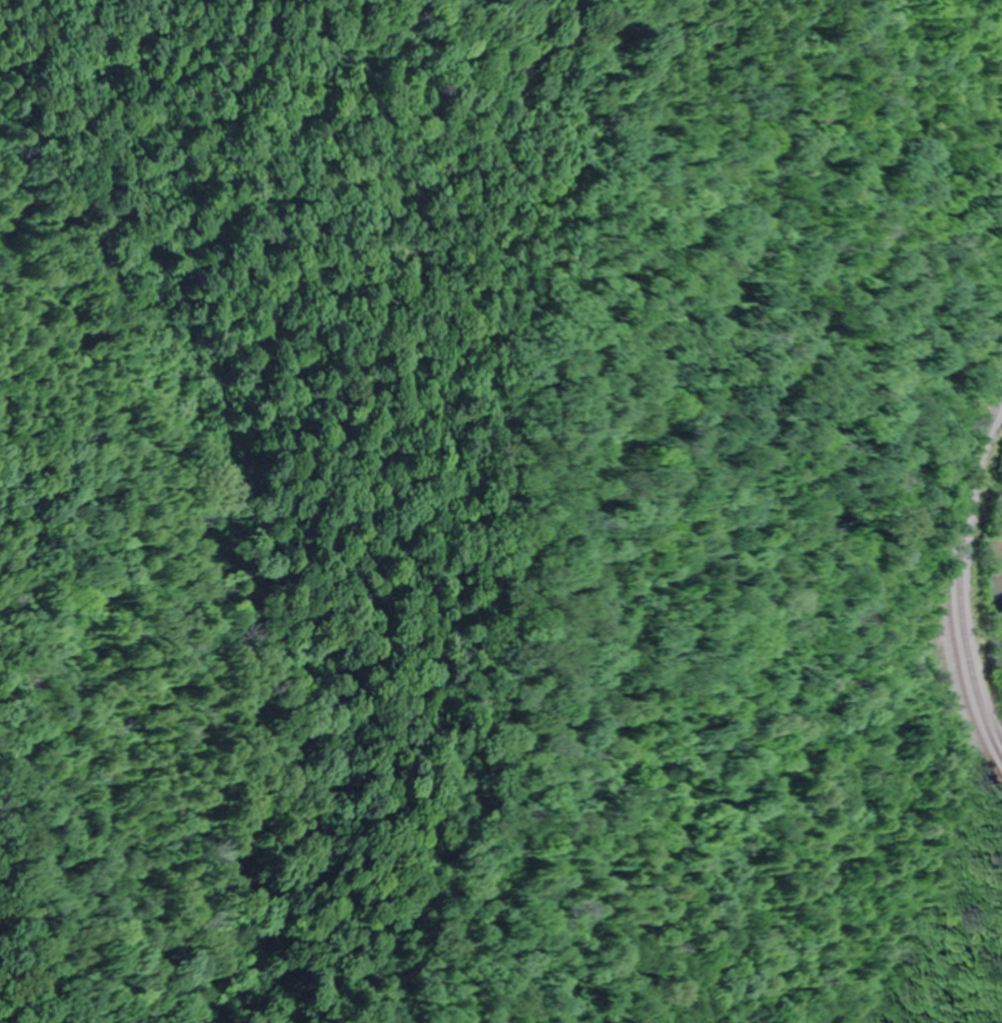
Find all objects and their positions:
railway: (963, 573)
river: (1000, 592)

